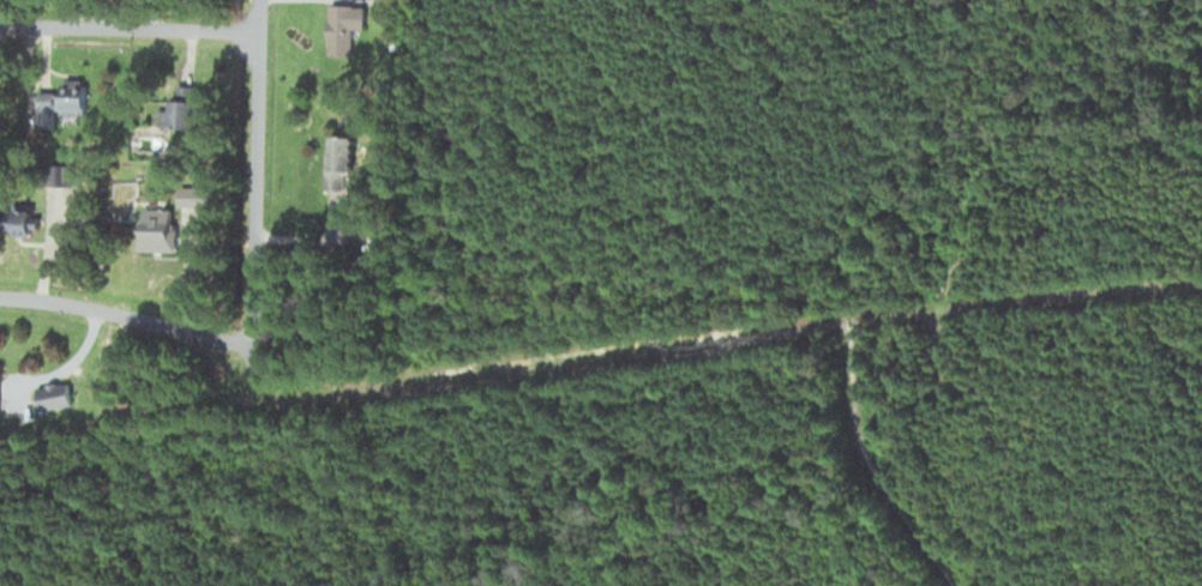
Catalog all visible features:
building: (385, 4)
building: (342, 25)
road: (130, 29)
building: (71, 102)
building: (178, 114)
building: (337, 161)
road: (253, 176)
building: (121, 192)
building: (154, 229)
road: (126, 318)
building: (52, 395)

